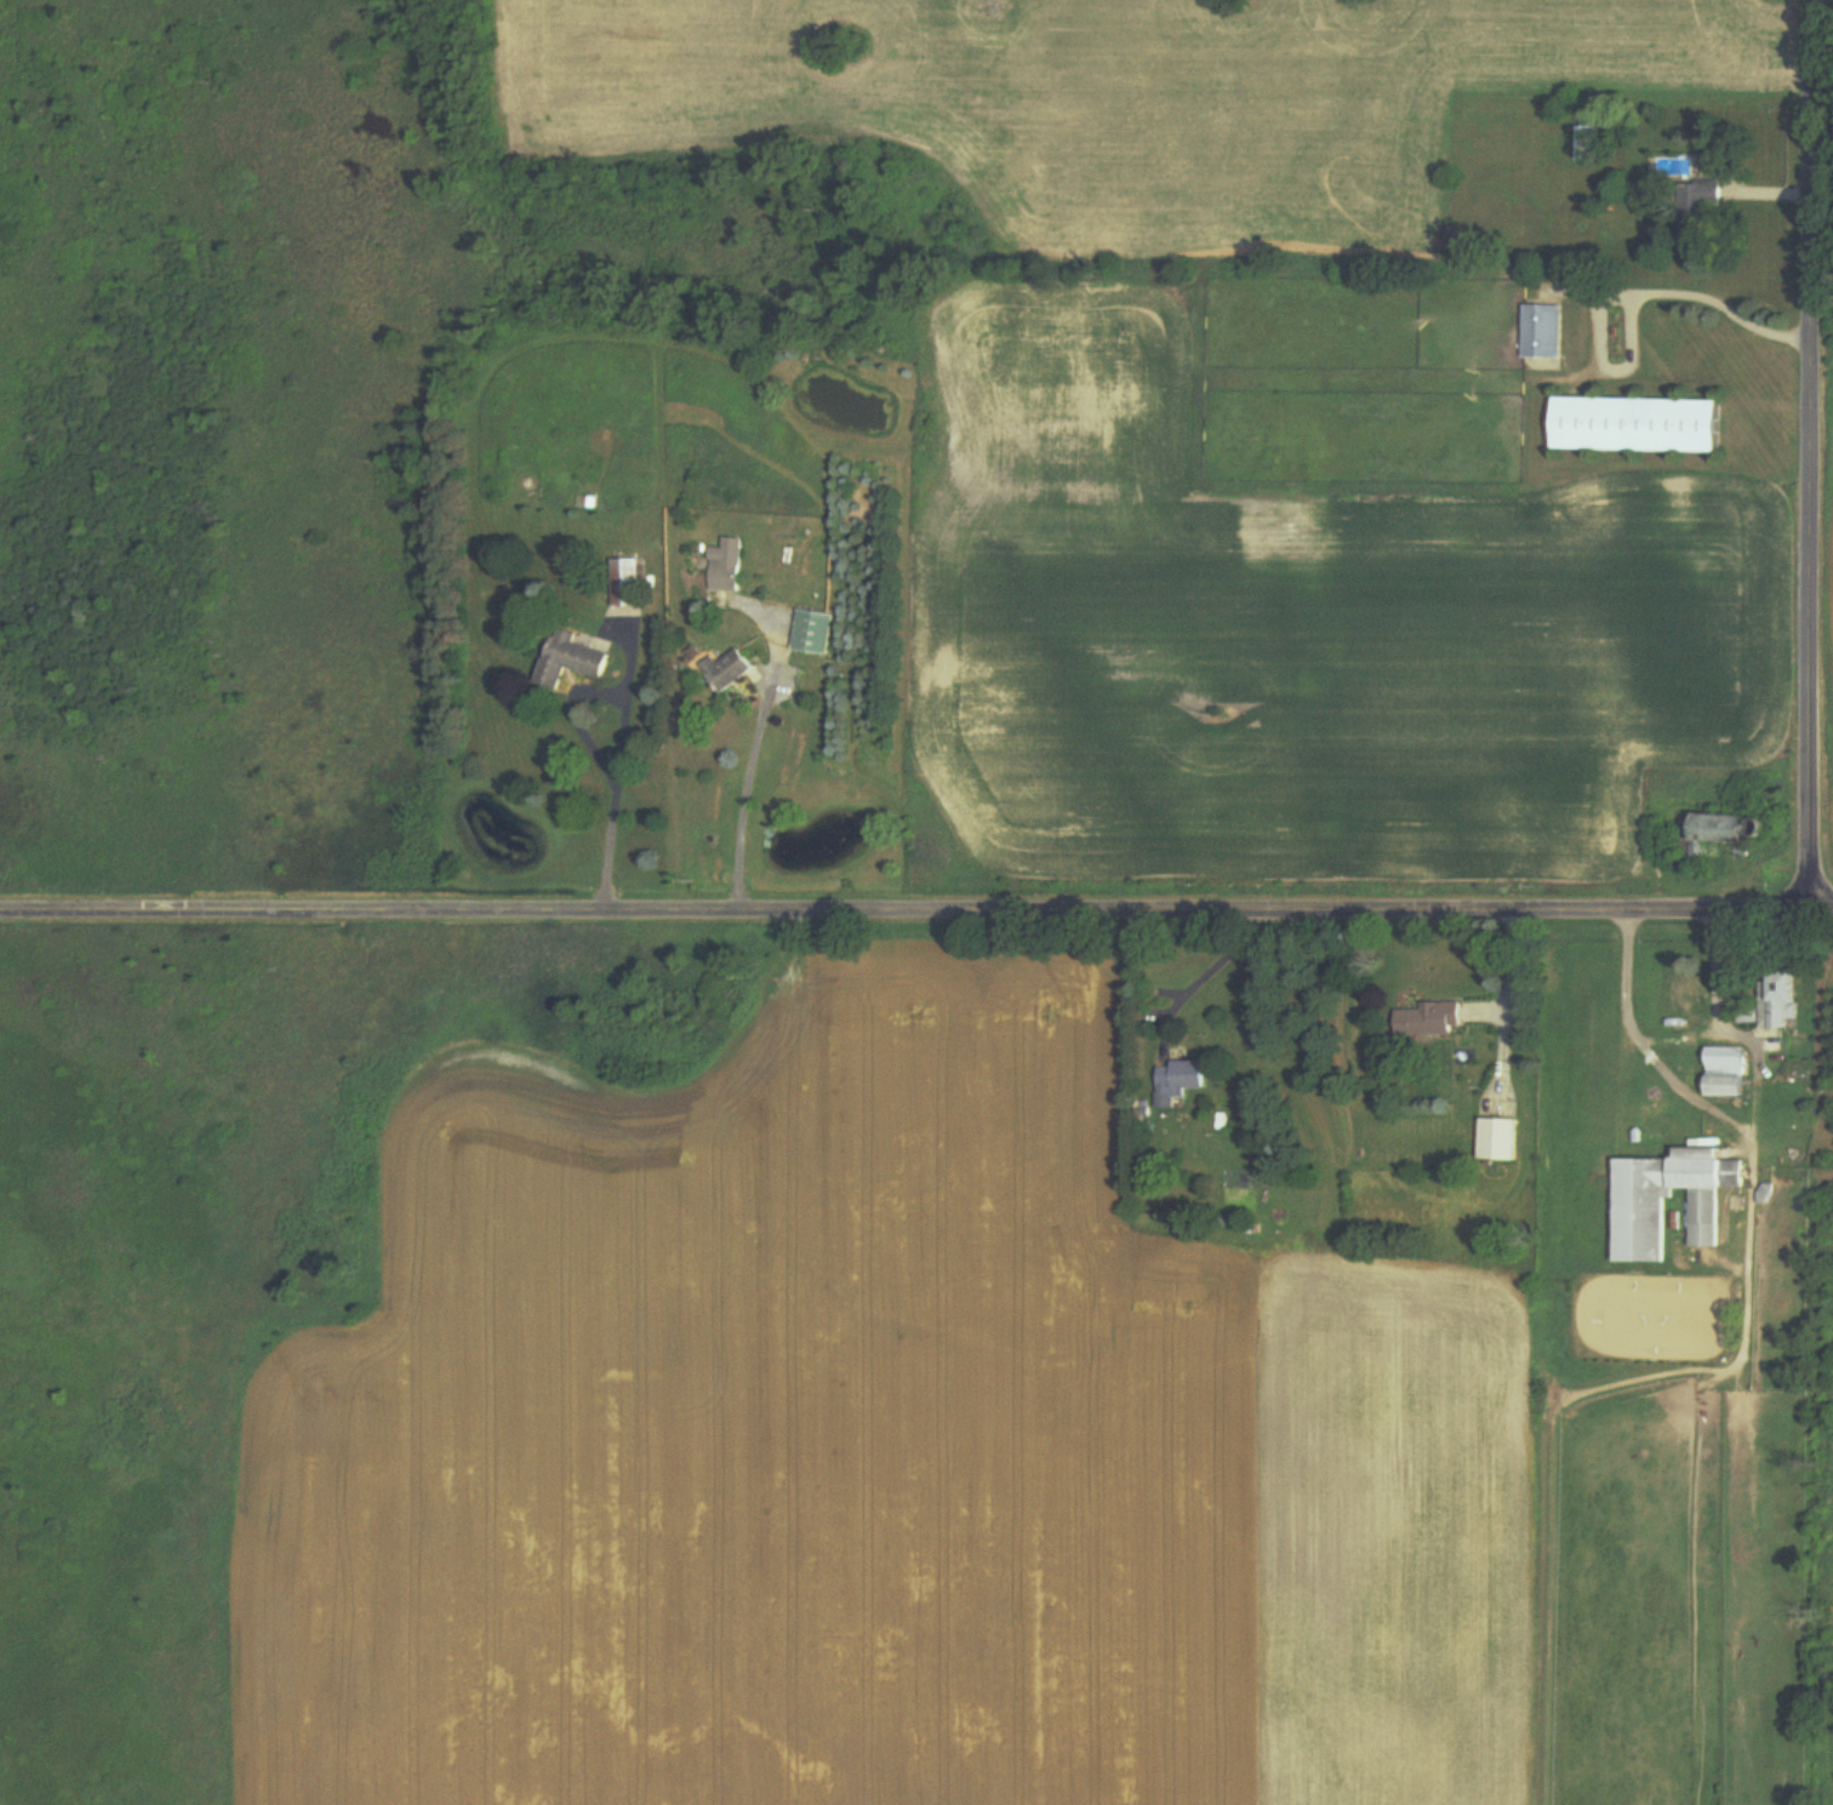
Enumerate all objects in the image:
building: (1591, 144)
building: (1701, 201)
road: (1616, 296)
road: (1629, 312)
building: (1546, 331)
building: (1640, 425)
road: (1809, 455)
building: (727, 567)
building: (628, 583)
building: (816, 633)
building: (570, 661)
building: (731, 672)
road: (754, 750)
road: (615, 765)
building: (1712, 839)
road: (916, 908)
road: (1715, 975)
road: (1199, 981)
building: (1782, 999)
building: (1433, 1019)
building: (1726, 1073)
building: (1182, 1081)
road: (1685, 1092)
building: (1500, 1141)
building: (1641, 1223)

